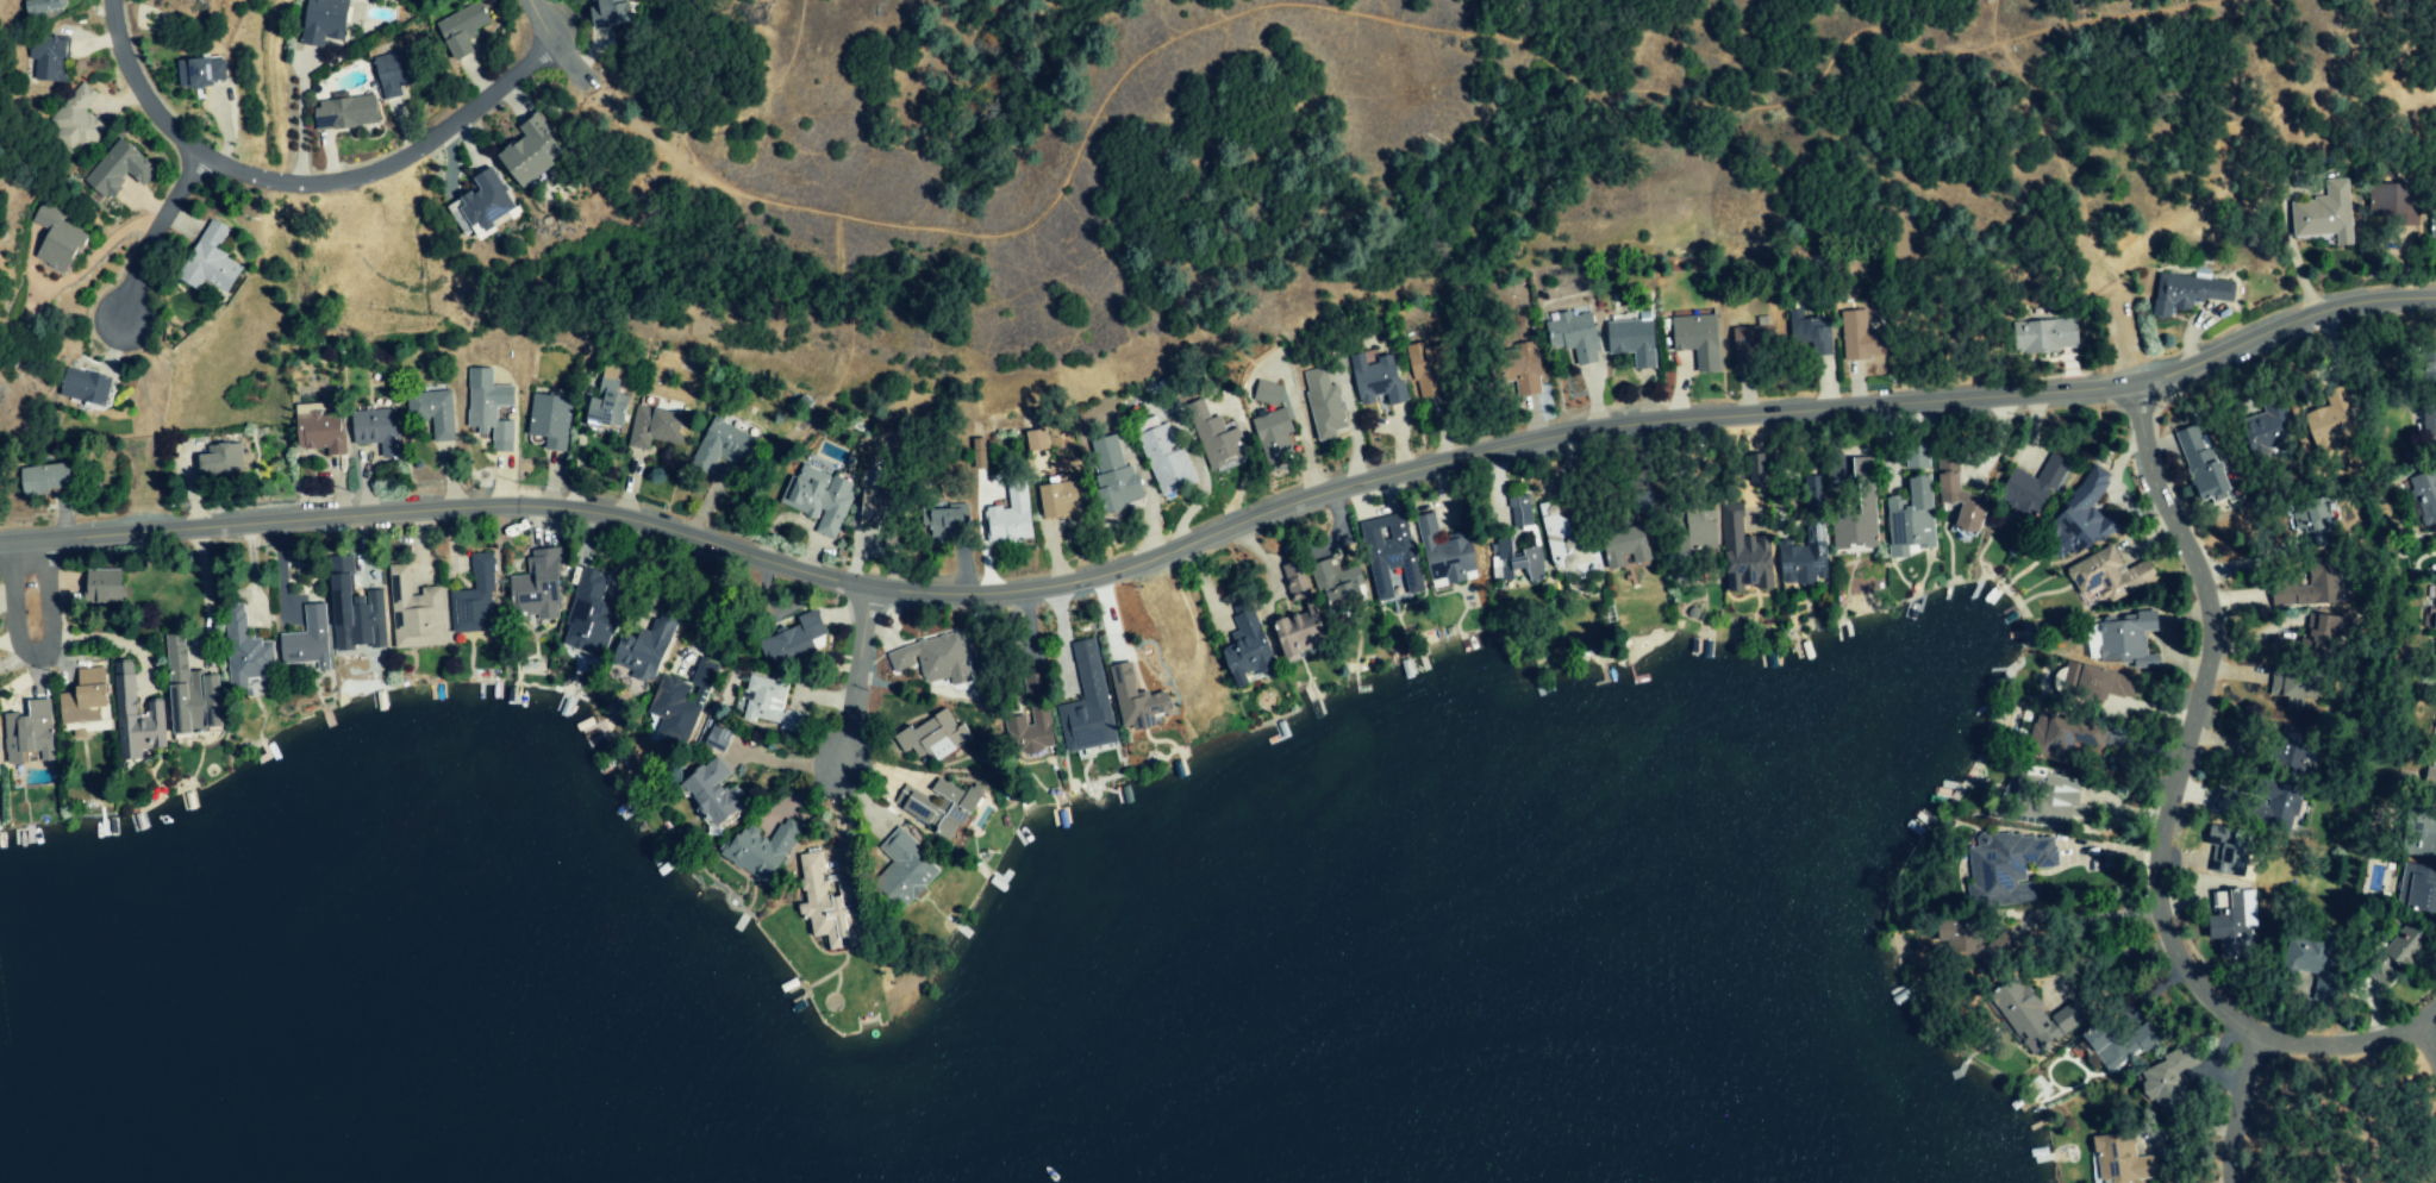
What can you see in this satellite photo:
building: (39, 7)
building: (606, 13)
building: (319, 21)
building: (458, 29)
road: (550, 42)
building: (48, 61)
building: (195, 71)
building: (387, 75)
building: (342, 113)
building: (76, 120)
building: (524, 152)
building: (119, 169)
road: (301, 182)
building: (480, 201)
building: (2388, 205)
building: (2322, 214)
road: (151, 233)
building: (52, 239)
building: (205, 262)
building: (2185, 293)
building: (1570, 333)
building: (1811, 337)
building: (1856, 337)
building: (2041, 337)
building: (1693, 339)
building: (1629, 342)
building: (1744, 348)
building: (1422, 369)
building: (1517, 369)
building: (1374, 381)
building: (82, 388)
building: (1264, 393)
building: (604, 400)
building: (1322, 405)
building: (487, 409)
building: (431, 412)
building: (549, 421)
building: (2324, 421)
building: (650, 427)
building: (313, 430)
building: (373, 430)
building: (2260, 432)
building: (1272, 436)
building: (1211, 437)
building: (1033, 440)
building: (718, 446)
building: (976, 453)
building: (218, 458)
building: (1915, 458)
building: (1162, 461)
building: (2197, 464)
building: (1753, 470)
building: (1111, 475)
building: (43, 478)
building: (2030, 487)
building: (817, 500)
building: (1056, 500)
building: (1956, 503)
building: (1518, 511)
building: (1856, 512)
building: (1007, 517)
building: (2079, 518)
building: (1907, 519)
building: (942, 522)
building: (2316, 522)
building: (877, 525)
building: (1694, 530)
road: (1223, 531)
building: (1559, 544)
building: (1620, 547)
building: (1441, 552)
building: (1387, 553)
building: (1742, 553)
building: (1514, 561)
building: (2106, 575)
building: (1330, 583)
building: (100, 586)
building: (2304, 587)
building: (532, 588)
building: (473, 599)
road: (710, 609)
building: (412, 613)
building: (351, 614)
building: (586, 615)
building: (1297, 618)
building: (304, 640)
building: (2125, 640)
road: (32, 649)
building: (1242, 649)
building: (639, 650)
building: (242, 655)
building: (930, 661)
road: (851, 672)
building: (706, 676)
building: (2094, 686)
building: (186, 693)
building: (1132, 700)
building: (77, 702)
building: (1085, 703)
building: (767, 705)
building: (672, 709)
building: (132, 718)
building: (27, 733)
building: (1028, 733)
building: (930, 736)
building: (2056, 736)
building: (2286, 751)
building: (0, 771)
building: (708, 791)
building: (2038, 801)
building: (2220, 801)
road: (2172, 802)
building: (2271, 803)
building: (937, 805)
building: (2417, 833)
building: (758, 850)
building: (2228, 856)
building: (2005, 869)
building: (900, 872)
building: (2419, 890)
building: (820, 907)
building: (2225, 925)
building: (2392, 956)
road: (2106, 958)
building: (2310, 966)
road: (2425, 1014)
building: (2030, 1016)
road: (2425, 1040)
building: (2115, 1044)
building: (2167, 1081)
road: (2238, 1107)
building: (2119, 1159)

